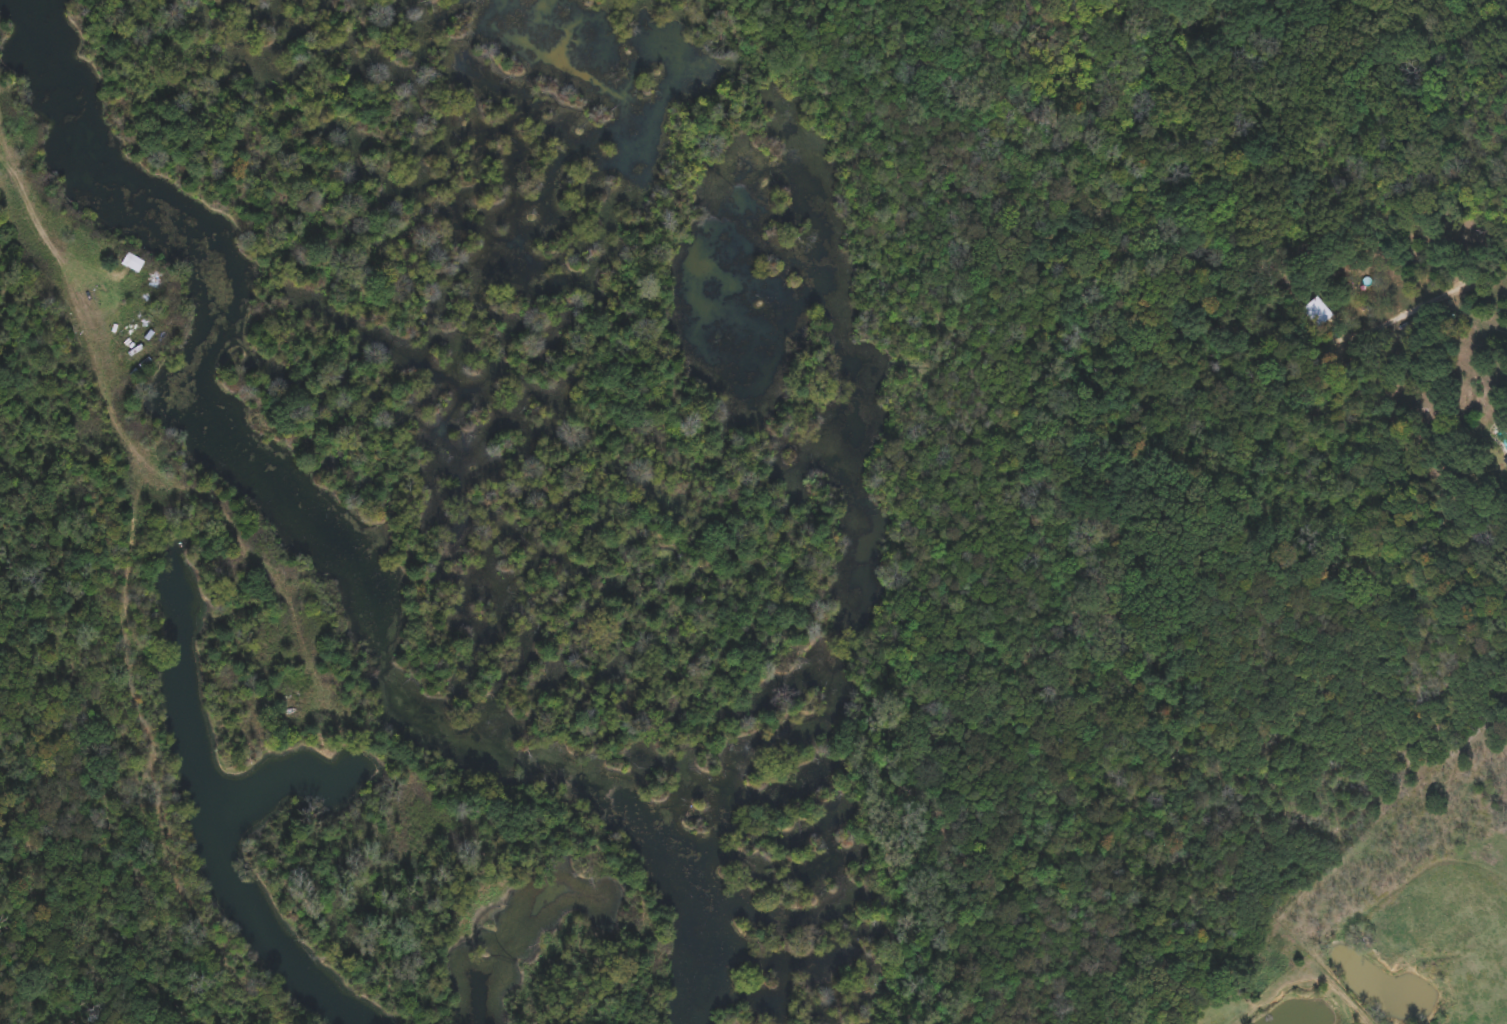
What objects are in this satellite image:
road: (8, 159)
building: (132, 260)
road: (1448, 289)
building: (1317, 310)
road: (74, 316)
building: (1506, 462)

